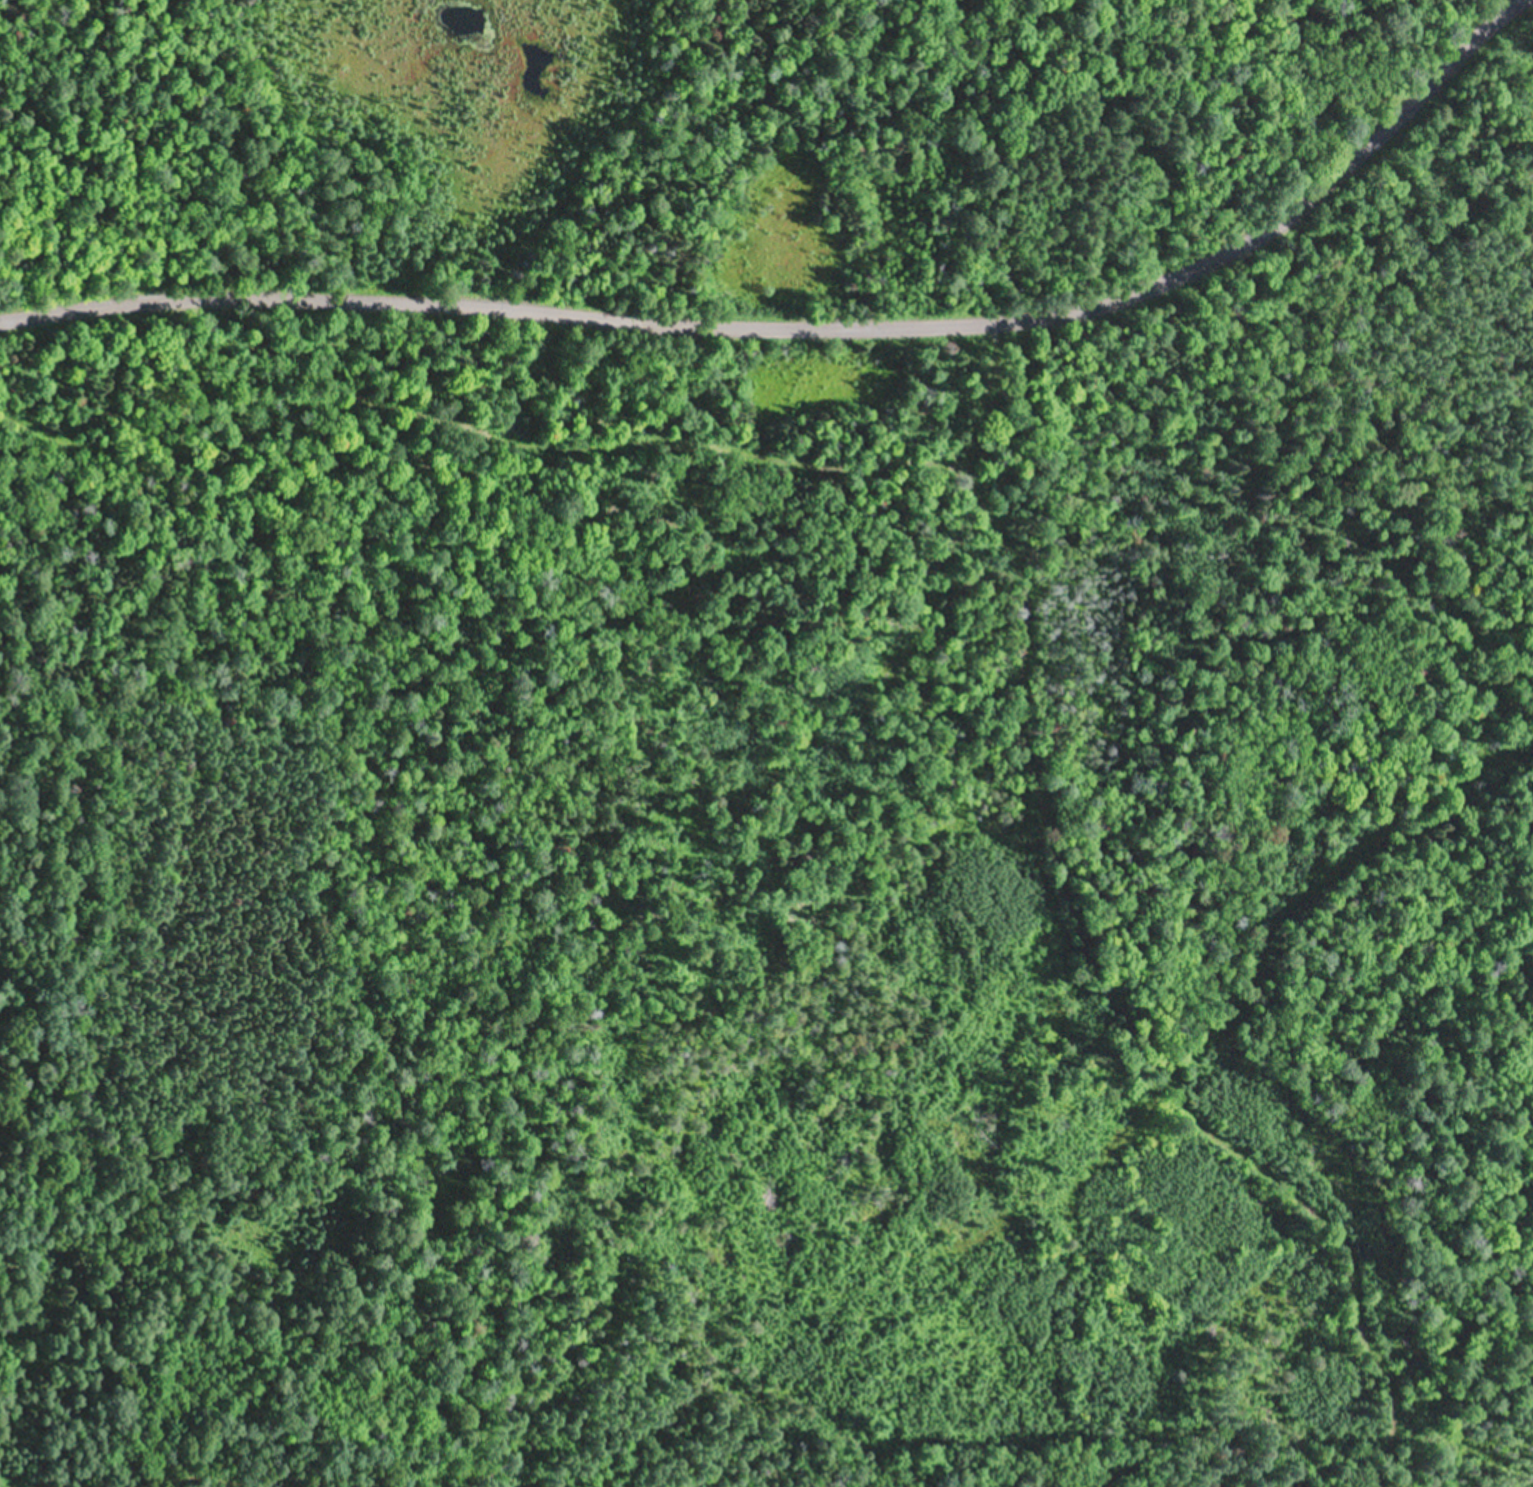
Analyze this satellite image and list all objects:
road: (809, 322)

